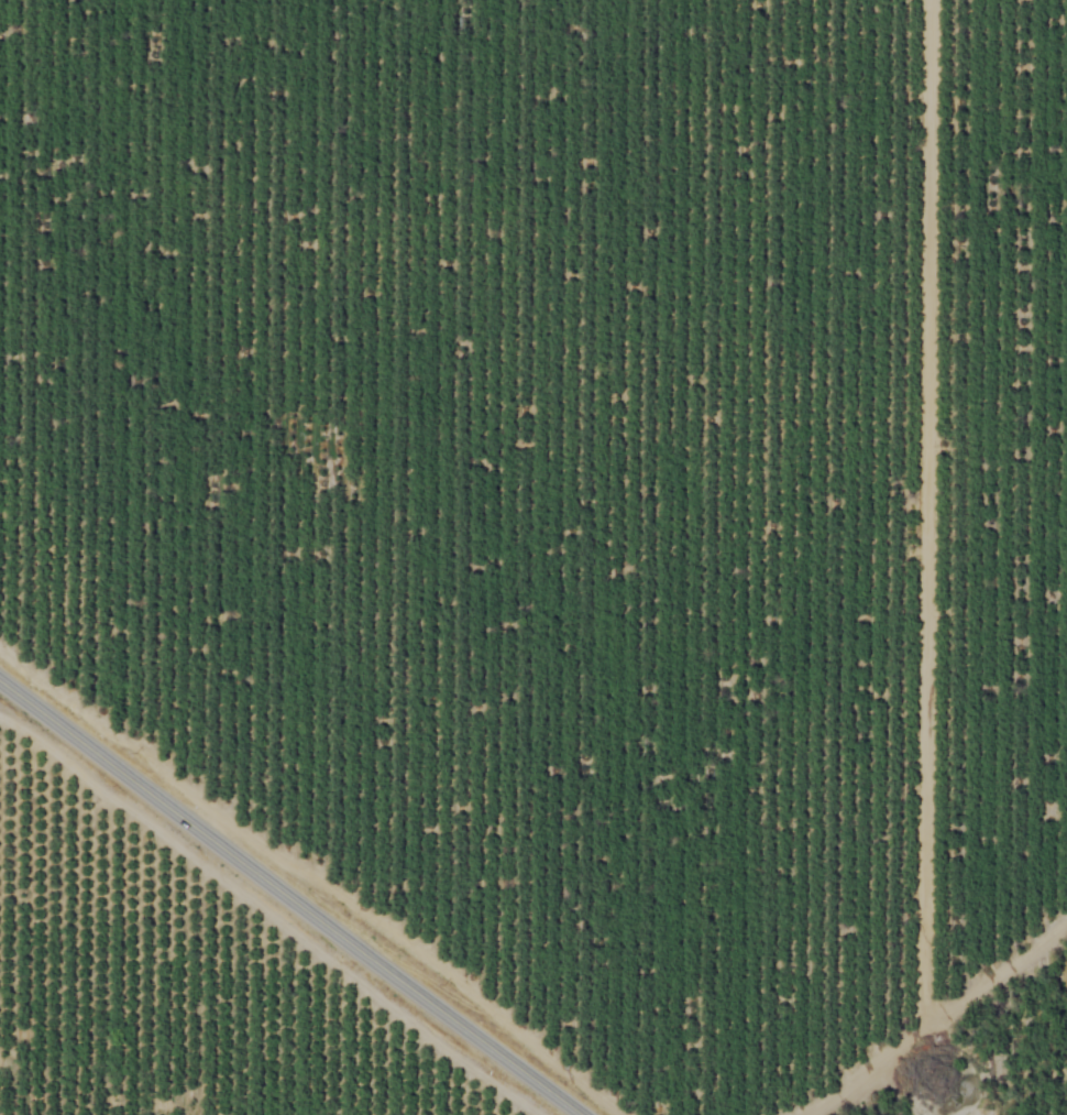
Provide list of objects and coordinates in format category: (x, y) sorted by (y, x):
road: (4, 687)
road: (293, 894)
railway: (255, 922)
crop: (167, 995)

